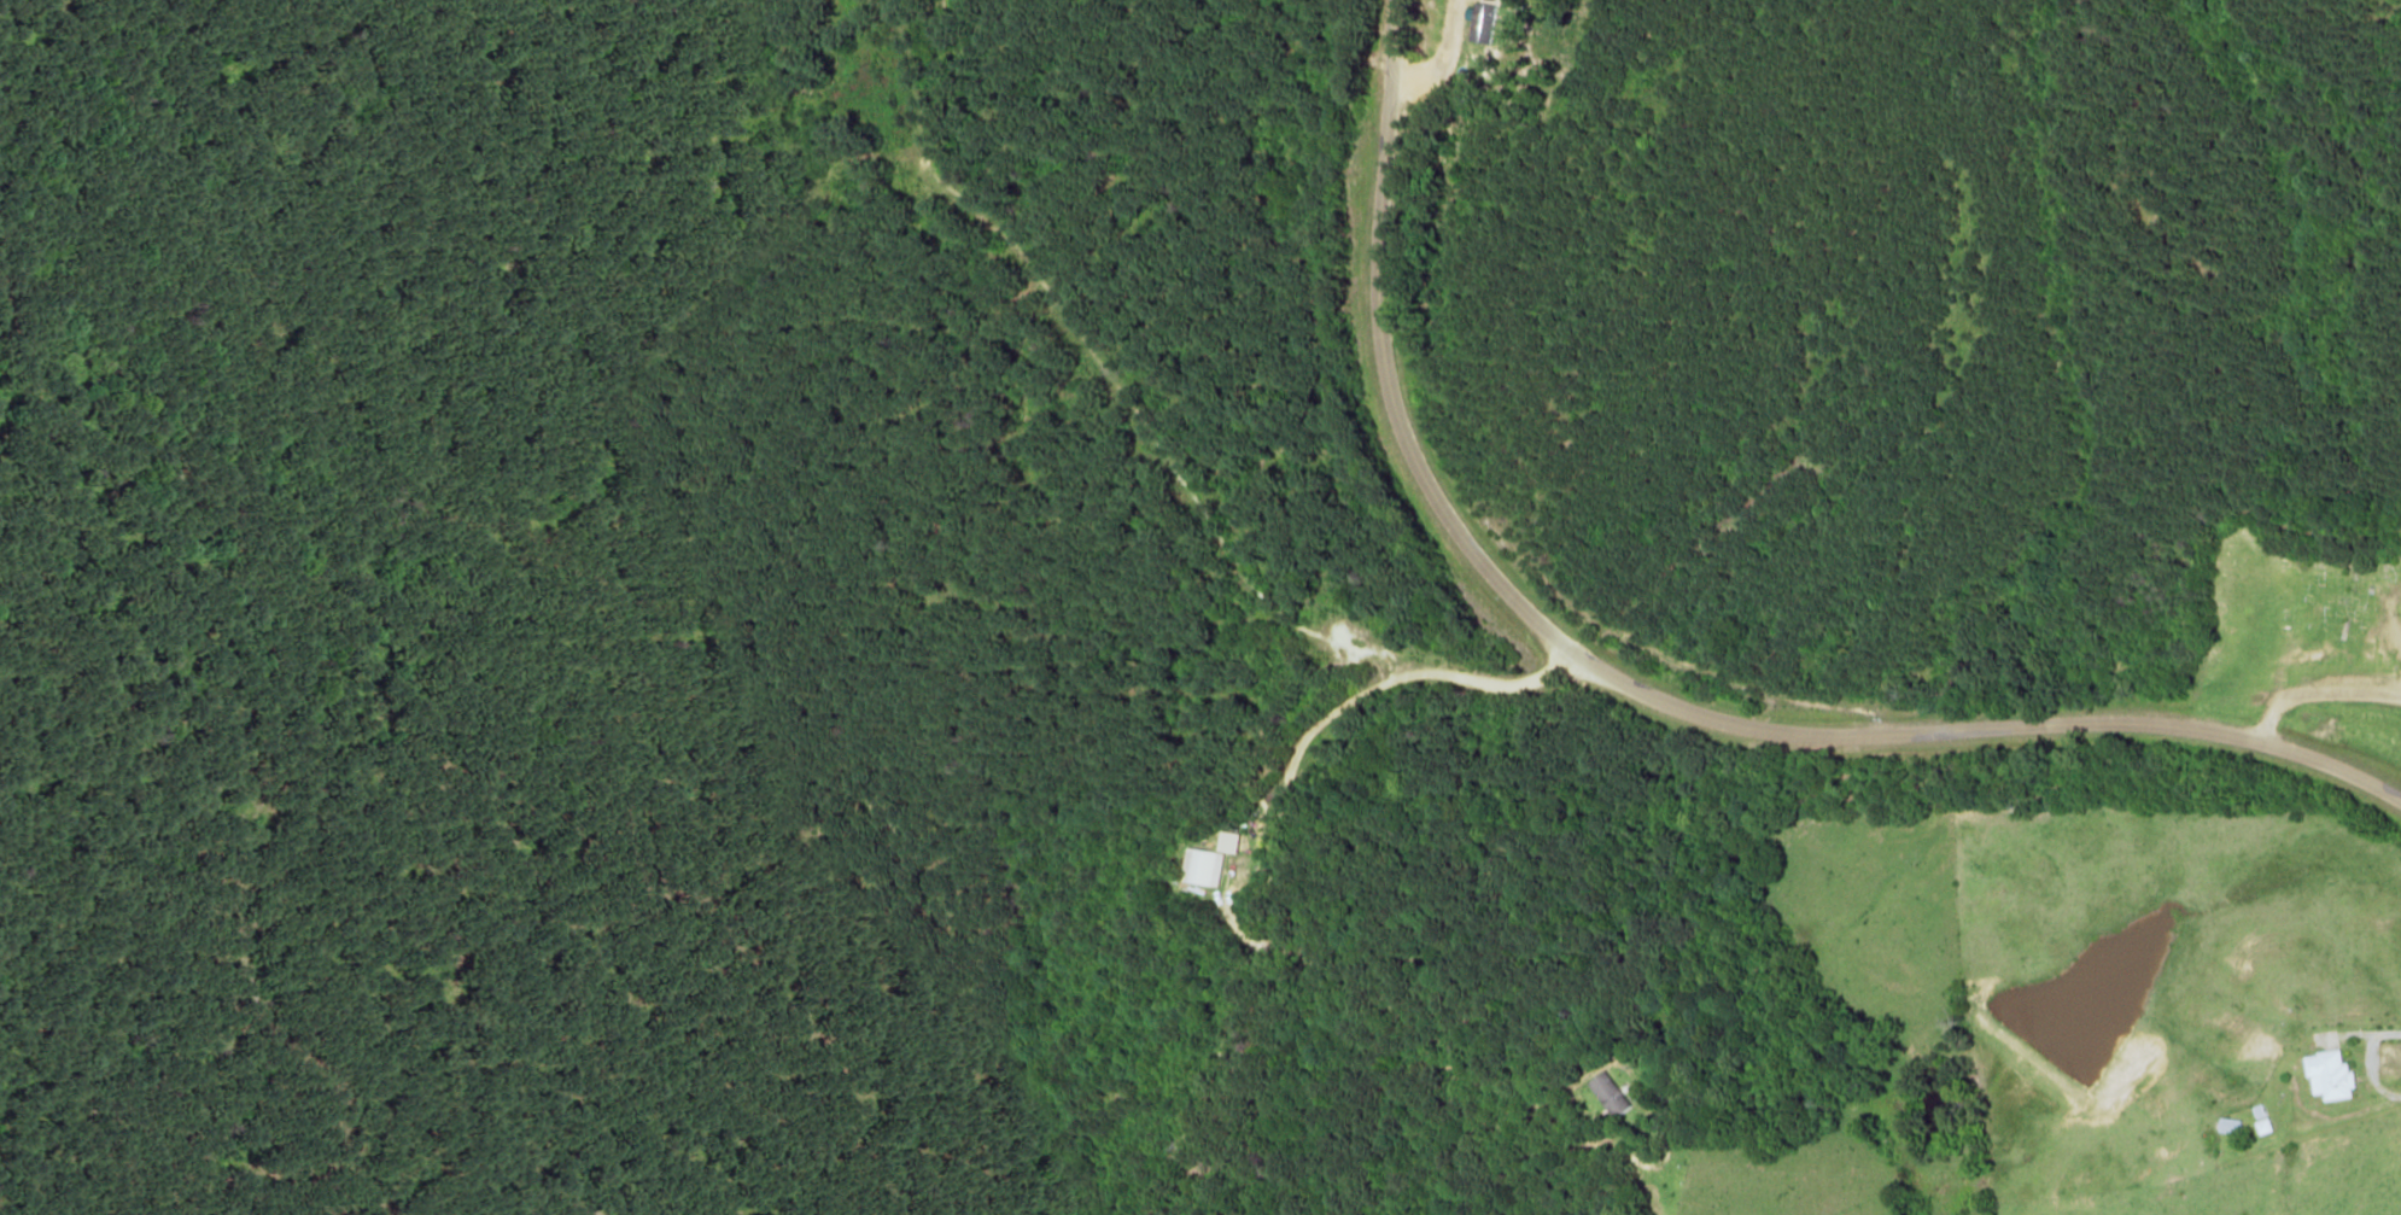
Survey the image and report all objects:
road: (1636, 685)
road: (1275, 839)
building: (1204, 866)
building: (2331, 1075)
building: (2231, 1126)

